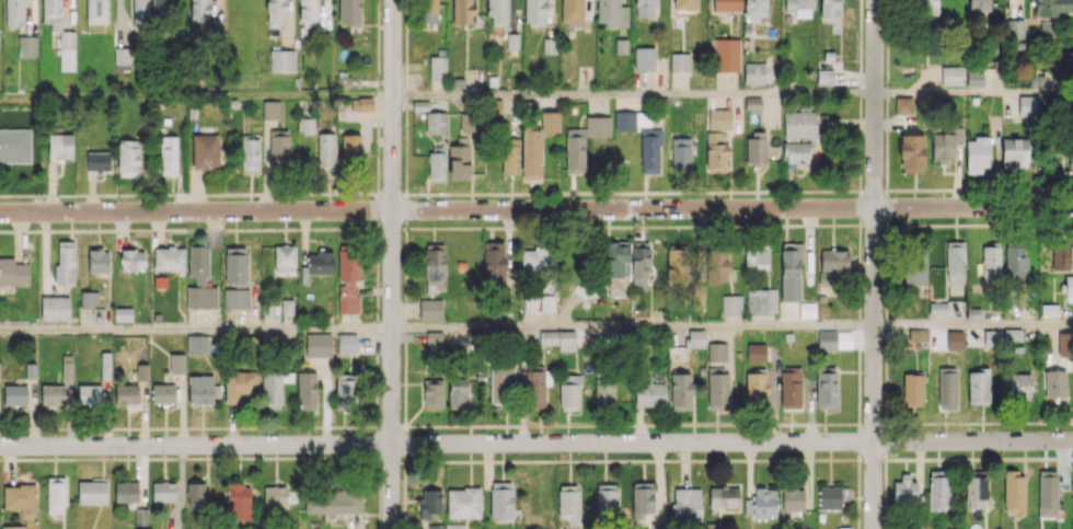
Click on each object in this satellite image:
building: (978, 4)
building: (726, 5)
building: (921, 5)
building: (683, 7)
building: (1051, 7)
building: (160, 8)
building: (644, 8)
building: (800, 8)
building: (828, 8)
building: (754, 9)
building: (199, 10)
building: (96, 11)
building: (429, 11)
building: (462, 11)
building: (14, 12)
building: (308, 12)
building: (349, 12)
building: (497, 12)
building: (534, 12)
building: (572, 12)
building: (51, 13)
building: (276, 13)
building: (611, 13)
building: (139, 14)
road: (406, 18)
road: (887, 21)
building: (1046, 27)
building: (1015, 28)
building: (547, 45)
building: (27, 46)
building: (66, 50)
building: (726, 54)
building: (123, 58)
building: (644, 58)
building: (281, 60)
building: (679, 61)
building: (1068, 64)
building: (437, 68)
road: (378, 69)
building: (753, 72)
building: (953, 76)
building: (824, 77)
building: (974, 78)
building: (1036, 79)
road: (861, 80)
road: (973, 93)
road: (633, 95)
road: (195, 96)
building: (361, 104)
building: (903, 104)
building: (753, 105)
building: (1027, 105)
building: (494, 107)
building: (270, 110)
road: (405, 114)
road: (886, 114)
building: (719, 118)
building: (624, 120)
building: (436, 122)
building: (550, 123)
building: (799, 124)
building: (597, 126)
building: (1072, 127)
building: (946, 143)
building: (15, 146)
building: (60, 146)
building: (350, 146)
road: (378, 146)
building: (755, 146)
building: (277, 149)
building: (325, 150)
building: (575, 150)
building: (649, 150)
building: (205, 151)
building: (715, 151)
building: (796, 152)
building: (1014, 152)
building: (530, 153)
building: (681, 153)
building: (911, 153)
building: (168, 154)
building: (250, 154)
building: (1070, 154)
building: (509, 156)
building: (977, 156)
building: (128, 158)
building: (97, 161)
building: (459, 162)
building: (436, 163)
road: (377, 172)
road: (859, 174)
road: (1016, 188)
road: (925, 189)
road: (732, 191)
road: (782, 191)
road: (818, 191)
road: (839, 191)
road: (851, 191)
road: (541, 192)
road: (575, 192)
road: (603, 192)
road: (646, 192)
road: (689, 192)
road: (462, 193)
road: (390, 194)
road: (377, 206)
road: (405, 207)
road: (535, 209)
road: (1030, 223)
road: (736, 225)
road: (818, 225)
road: (938, 225)
road: (648, 226)
road: (459, 227)
road: (557, 227)
road: (405, 229)
road: (378, 243)
road: (406, 248)
road: (858, 248)
building: (1066, 253)
building: (755, 256)
building: (169, 257)
building: (285, 258)
building: (131, 260)
building: (833, 260)
building: (97, 261)
building: (493, 261)
building: (538, 261)
building: (65, 262)
building: (955, 262)
building: (1015, 262)
road: (405, 263)
building: (676, 263)
building: (991, 263)
building: (198, 264)
building: (316, 264)
road: (391, 264)
building: (716, 264)
road: (874, 264)
building: (641, 265)
building: (914, 265)
building: (234, 266)
building: (615, 266)
building: (435, 267)
road: (885, 267)
building: (791, 272)
building: (13, 273)
building: (348, 280)
building: (1069, 286)
road: (858, 288)
building: (697, 295)
building: (201, 297)
building: (89, 298)
building: (235, 298)
building: (761, 300)
building: (529, 303)
building: (546, 303)
building: (730, 304)
building: (55, 308)
building: (430, 309)
building: (937, 309)
building: (122, 314)
road: (377, 318)
road: (885, 321)
road: (973, 325)
road: (632, 327)
road: (195, 331)
building: (918, 334)
building: (991, 337)
building: (269, 338)
building: (558, 338)
building: (696, 338)
building: (833, 340)
building: (954, 340)
building: (434, 341)
building: (197, 344)
building: (346, 344)
building: (1064, 344)
building: (318, 345)
road: (886, 346)
road: (405, 347)
building: (716, 352)
building: (755, 353)
building: (176, 364)
building: (105, 365)
road: (858, 365)
building: (66, 366)
building: (141, 371)
road: (885, 375)
road: (377, 380)
building: (1054, 383)
building: (501, 384)
building: (240, 386)
building: (978, 387)
building: (1019, 387)
building: (274, 388)
building: (534, 388)
building: (757, 388)
building: (826, 388)
building: (201, 389)
building: (791, 389)
building: (912, 390)
building: (947, 390)
building: (307, 391)
building: (680, 391)
building: (718, 391)
building: (457, 392)
building: (569, 392)
building: (126, 393)
building: (163, 393)
building: (345, 393)
building: (432, 393)
building: (603, 393)
building: (649, 393)
building: (14, 394)
building: (51, 394)
building: (89, 395)
road: (377, 399)
road: (885, 406)
road: (377, 417)
road: (956, 422)
road: (1008, 422)
road: (1031, 422)
road: (1054, 422)
road: (1069, 422)
road: (833, 423)
road: (900, 423)
road: (608, 424)
road: (637, 424)
road: (664, 424)
road: (701, 424)
road: (768, 424)
road: (427, 425)
road: (461, 425)
road: (534, 425)
road: (276, 426)
road: (325, 426)
road: (92, 427)
road: (177, 427)
road: (359, 427)
road: (391, 427)
road: (13, 428)
road: (33, 428)
road: (47, 428)
road: (64, 428)
road: (404, 440)
road: (378, 441)
road: (858, 441)
road: (535, 442)
road: (358, 456)
road: (154, 457)
road: (315, 457)
road: (330, 457)
road: (1036, 457)
road: (991, 458)
road: (751, 459)
road: (787, 459)
road: (827, 459)
road: (935, 459)
road: (380, 460)
road: (541, 460)
road: (654, 460)
road: (688, 460)
road: (717, 460)
road: (423, 461)
road: (379, 474)
road: (885, 483)
road: (404, 486)
building: (1013, 491)
building: (92, 492)
building: (126, 492)
building: (163, 492)
building: (937, 492)
building: (976, 492)
road: (857, 493)
building: (905, 493)
building: (1047, 493)
building: (55, 495)
building: (196, 495)
building: (275, 495)
building: (724, 496)
building: (832, 496)
building: (20, 499)
building: (500, 499)
building: (605, 499)
building: (642, 499)
building: (793, 499)
building: (333, 501)
building: (238, 502)
building: (429, 503)
building: (463, 503)
building: (687, 504)
building: (761, 504)
road: (379, 505)
building: (568, 505)
building: (141, 516)
road: (885, 518)
road: (404, 522)
building: (455, 526)
building: (657, 526)
building: (12, 527)
building: (430, 527)
building: (711, 527)
road: (379, 528)
building: (844, 528)

